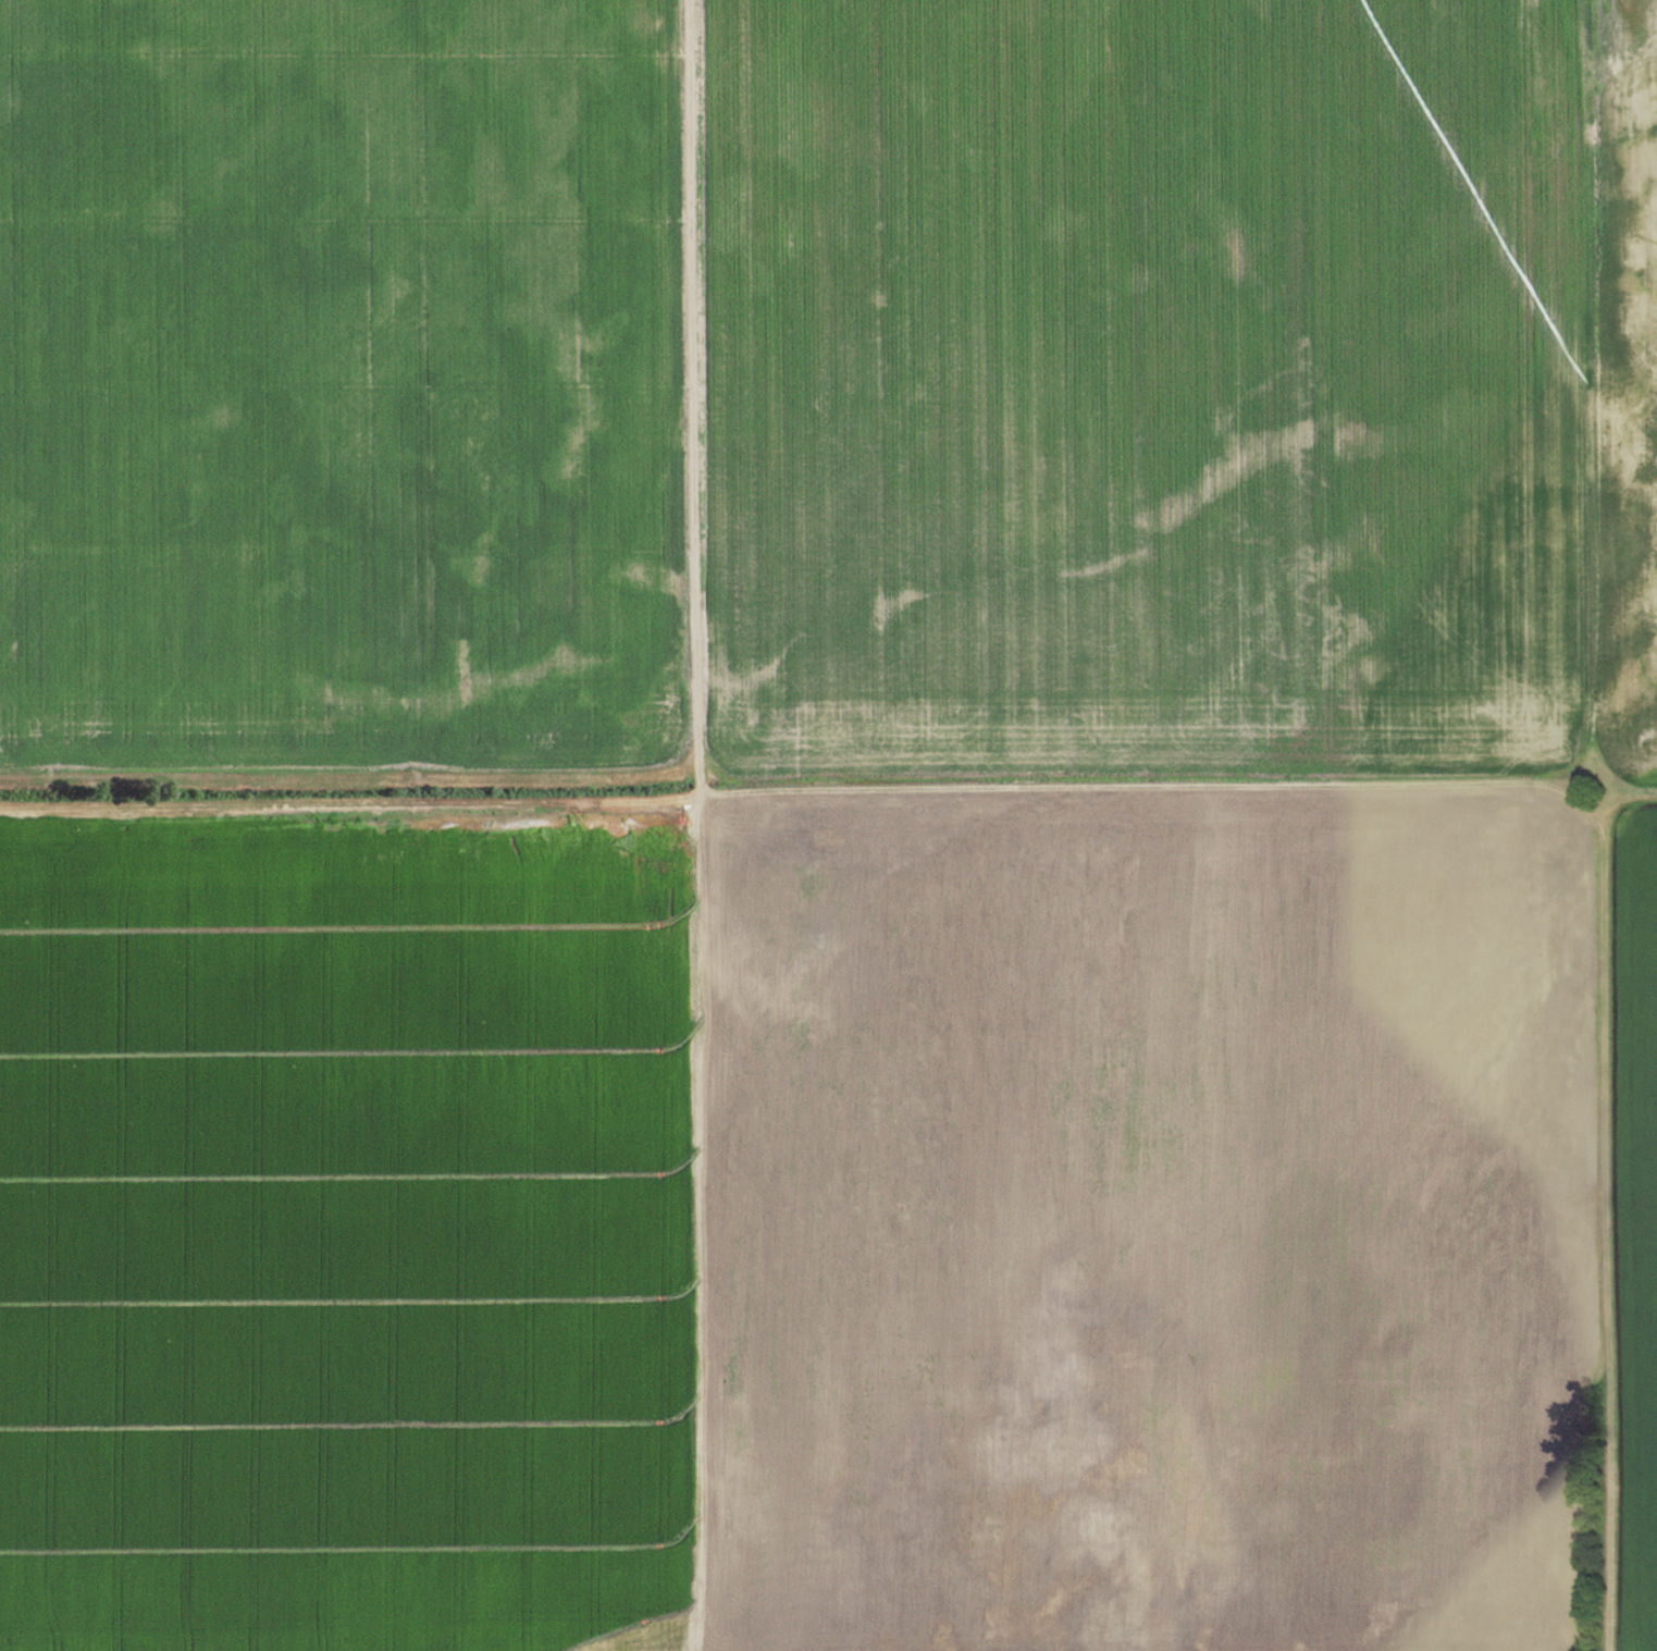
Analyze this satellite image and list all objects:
road: (695, 390)

